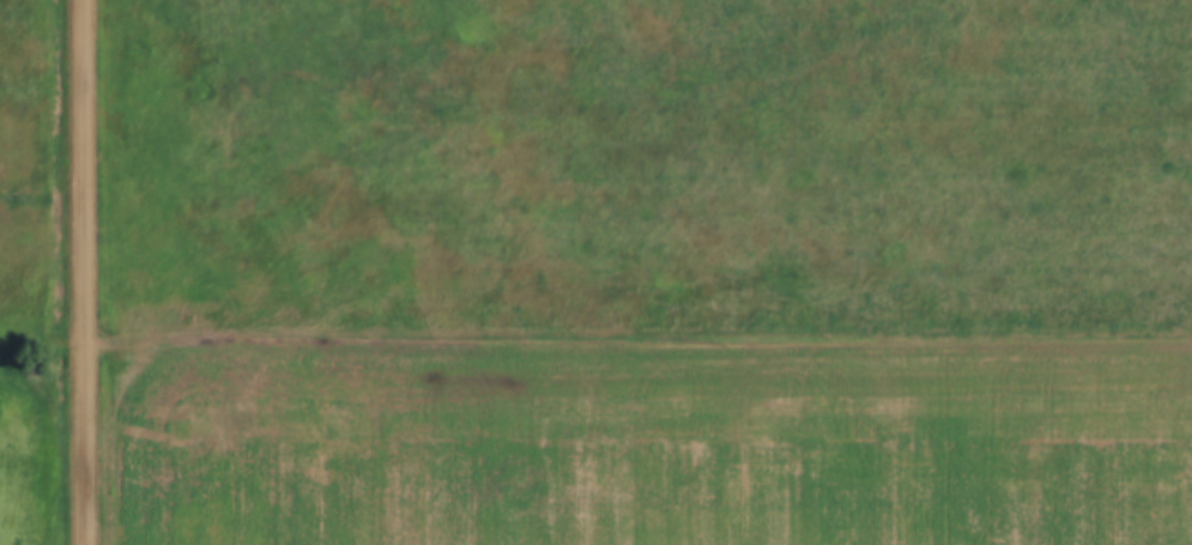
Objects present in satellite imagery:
road: (81, 272)
road: (637, 346)
road: (41, 349)

